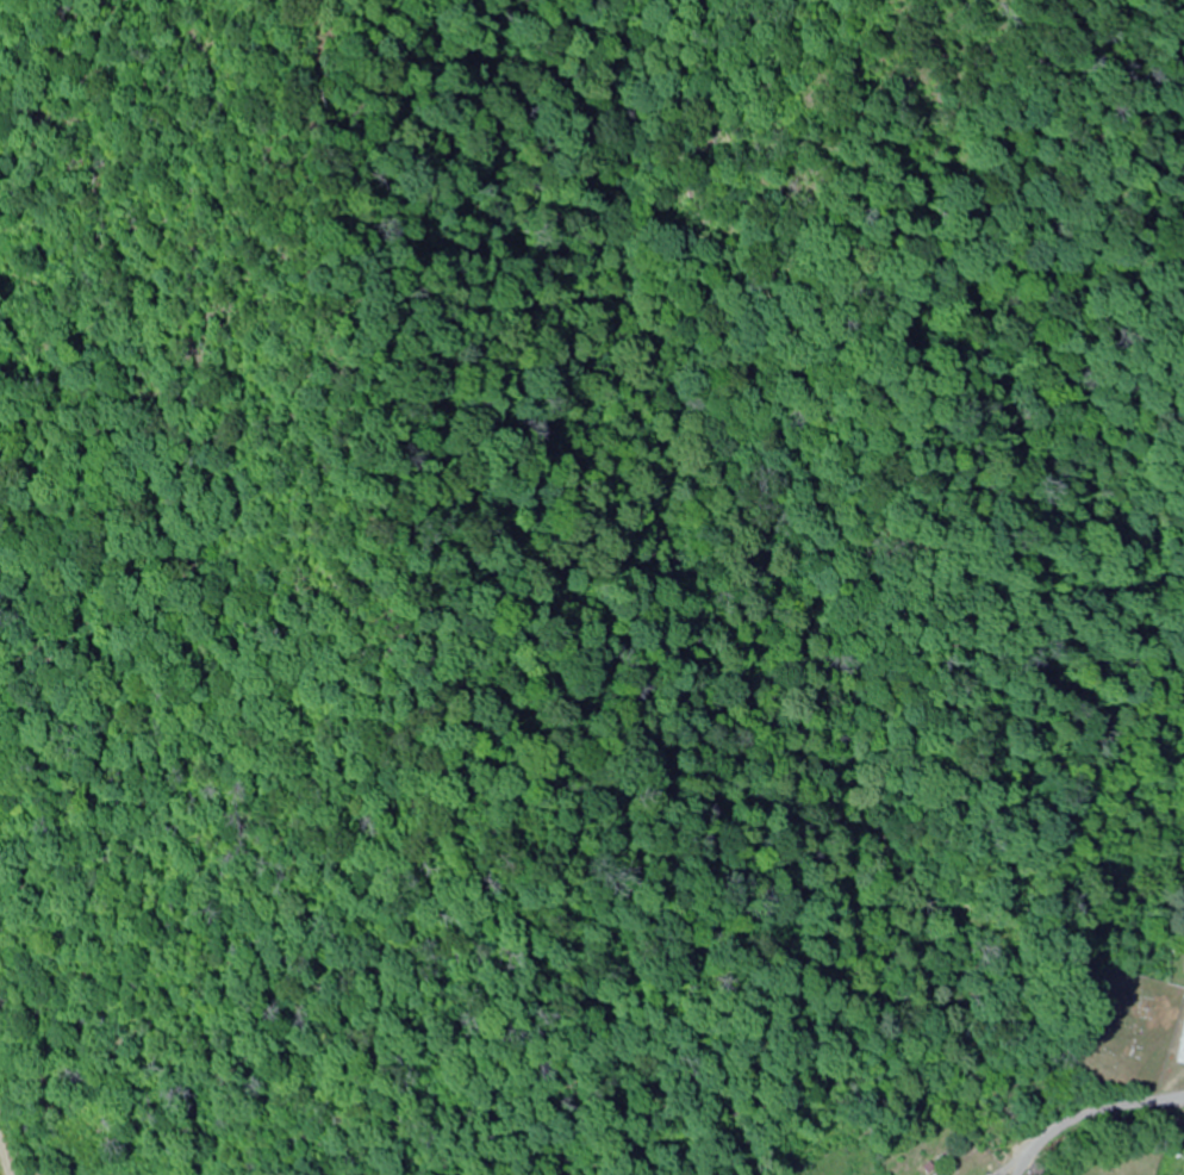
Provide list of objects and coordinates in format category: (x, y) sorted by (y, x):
road: (1095, 1134)

